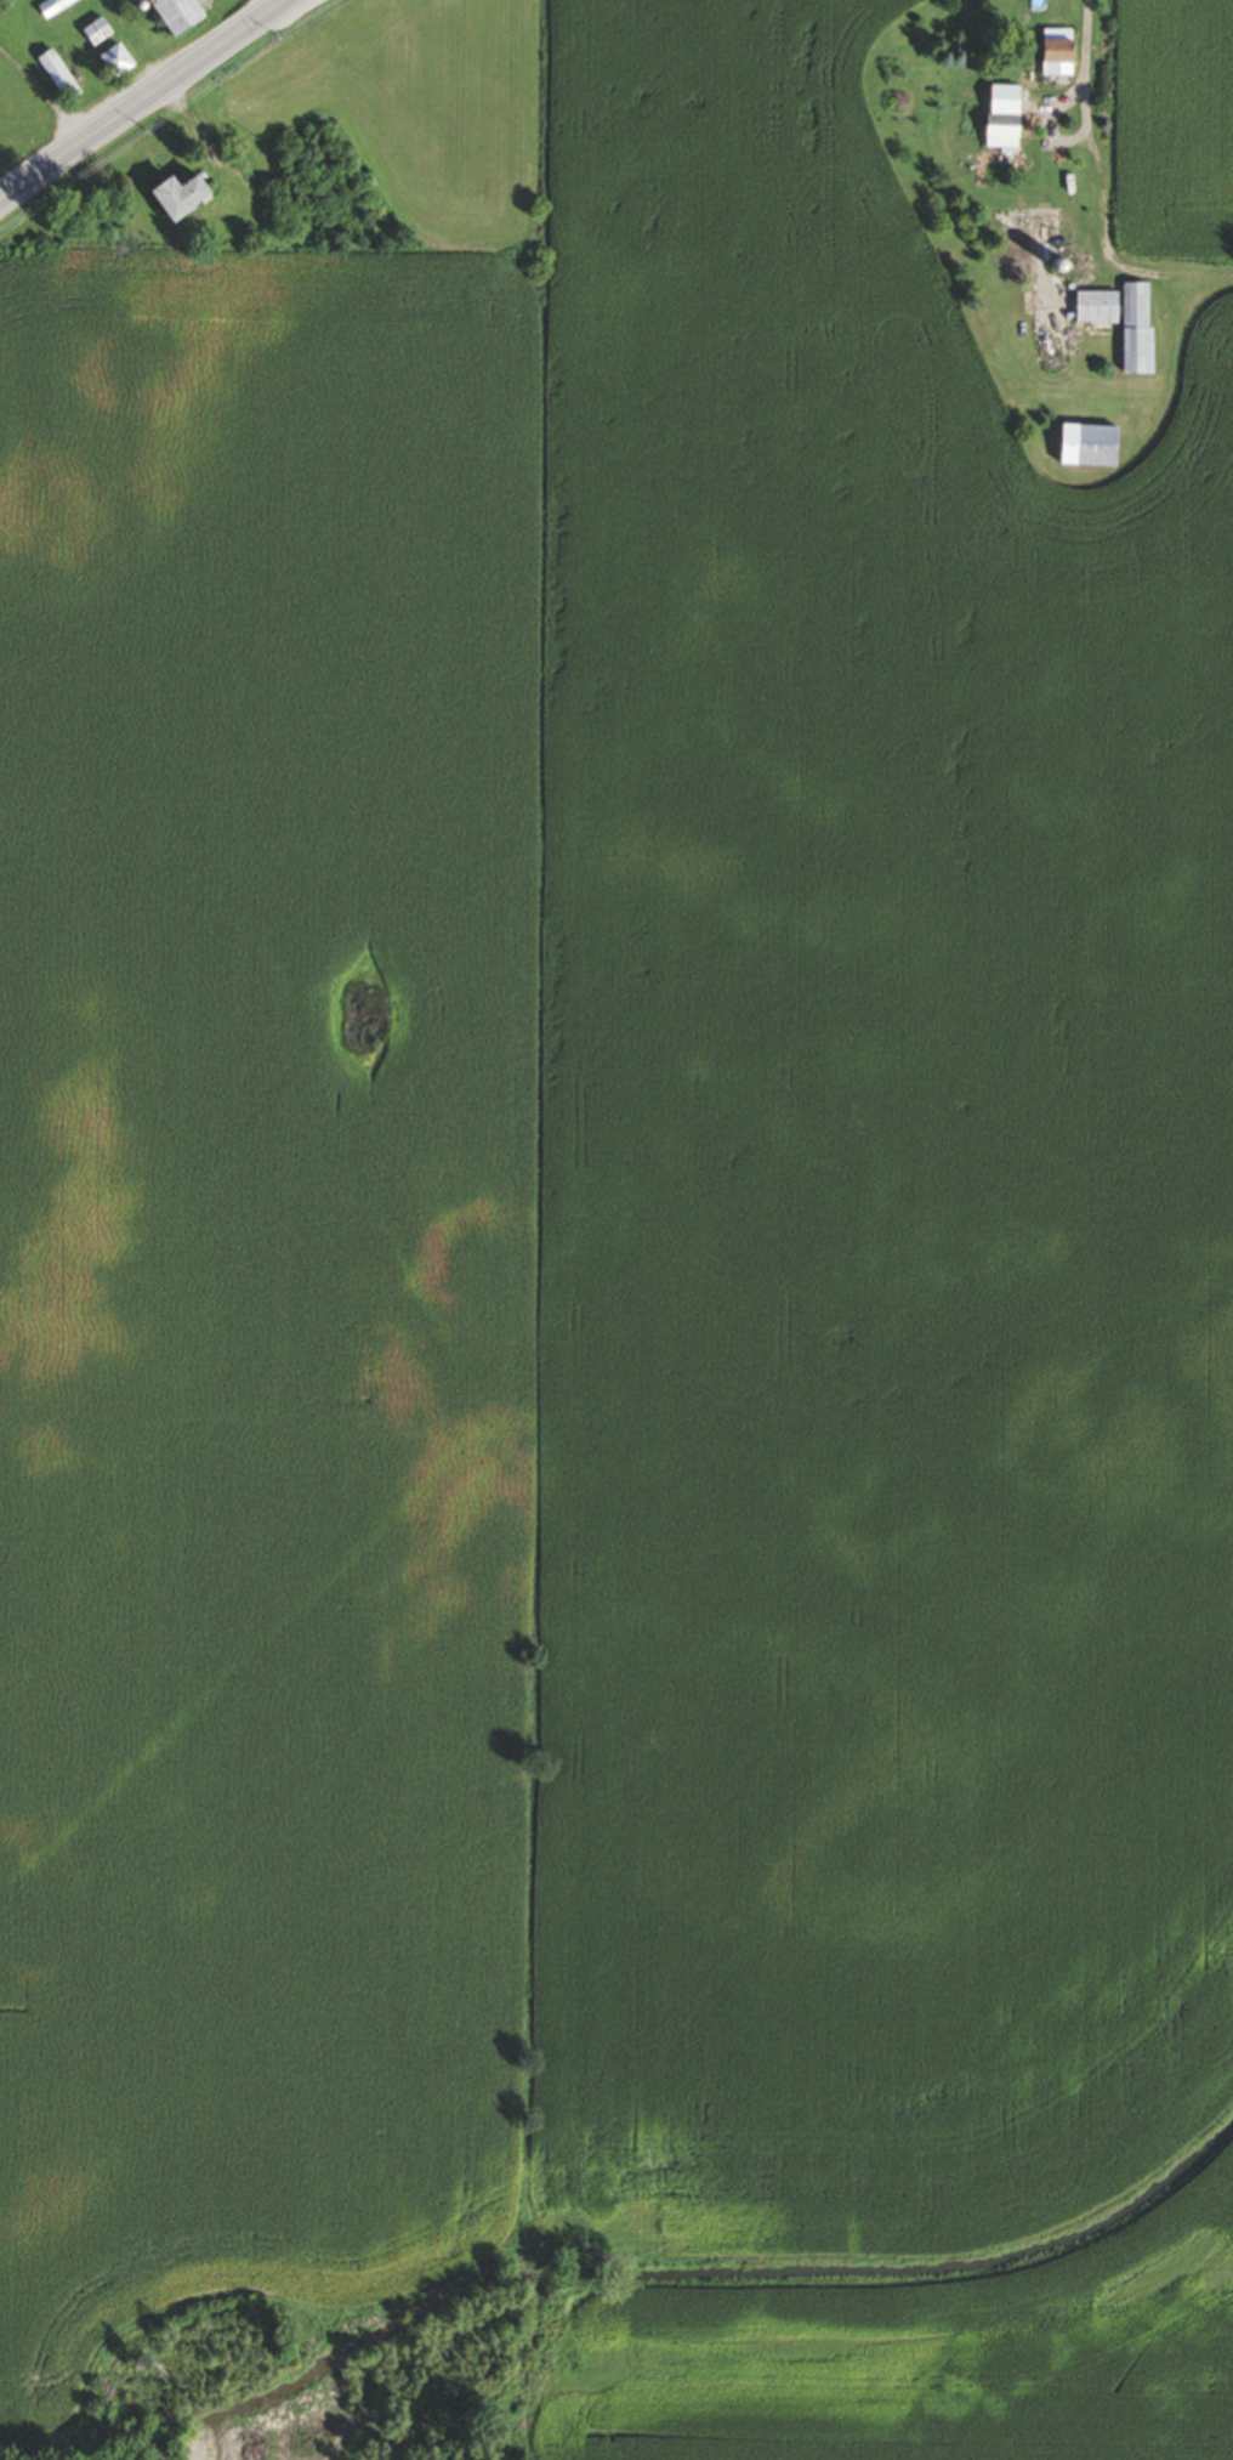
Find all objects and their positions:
building: (55, 7)
building: (170, 15)
building: (95, 33)
building: (1056, 57)
road: (1098, 59)
building: (112, 62)
building: (58, 76)
road: (144, 101)
building: (1002, 118)
building: (172, 198)
road: (1100, 210)
building: (1097, 310)
building: (1137, 330)
building: (1087, 447)

